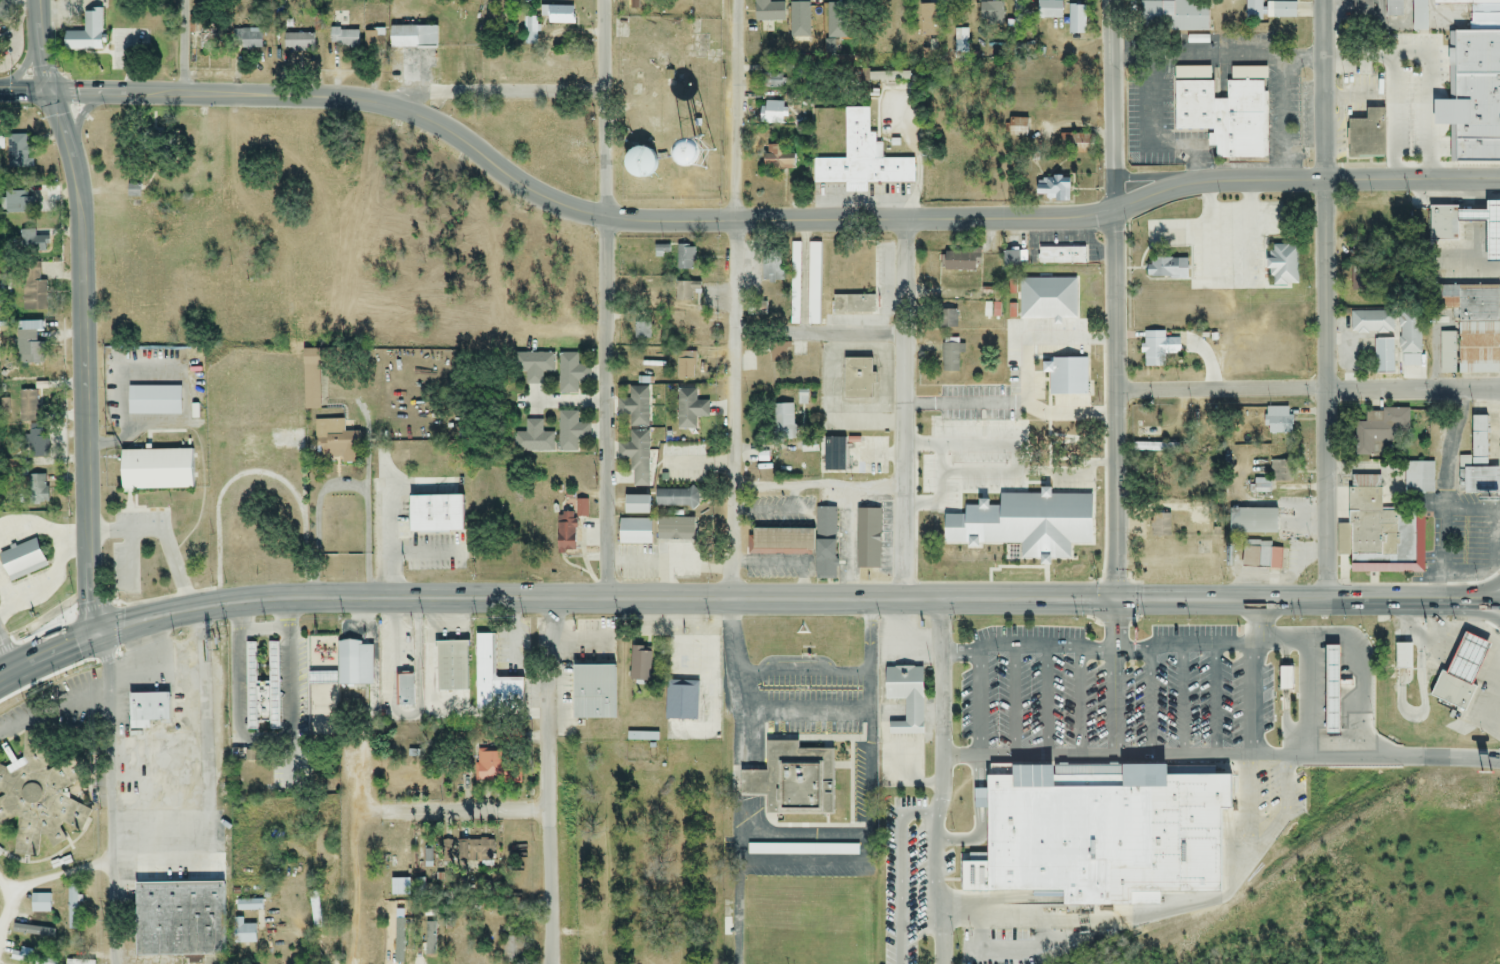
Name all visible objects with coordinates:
building: (1393, 8)
building: (768, 10)
building: (1049, 10)
building: (1362, 10)
building: (1280, 11)
building: (824, 14)
building: (558, 15)
building: (995, 16)
building: (1172, 16)
building: (1418, 16)
building: (1076, 20)
building: (922, 22)
building: (531, 31)
building: (85, 34)
building: (249, 38)
building: (412, 38)
building: (343, 39)
building: (374, 39)
building: (207, 43)
building: (298, 43)
road: (41, 46)
road: (183, 47)
road: (1164, 55)
road: (1135, 56)
road: (1429, 69)
building: (772, 82)
building: (1477, 85)
road: (1324, 90)
road: (25, 91)
road: (486, 92)
road: (1110, 106)
road: (605, 109)
road: (738, 111)
building: (771, 113)
building: (1224, 117)
road: (1392, 118)
road: (1286, 120)
building: (1018, 128)
building: (1366, 136)
building: (1075, 144)
building: (17, 153)
building: (862, 159)
building: (637, 163)
building: (1052, 189)
building: (133, 191)
building: (17, 203)
road: (1230, 214)
road: (762, 221)
building: (1442, 232)
road: (1474, 234)
building: (32, 243)
building: (1061, 256)
building: (685, 258)
building: (1014, 258)
building: (961, 260)
building: (1281, 265)
building: (771, 267)
building: (1165, 268)
building: (795, 284)
building: (814, 284)
building: (33, 288)
building: (684, 292)
building: (1047, 299)
building: (864, 305)
building: (758, 311)
building: (947, 319)
building: (1371, 322)
building: (691, 327)
building: (642, 329)
building: (1468, 330)
building: (1409, 332)
road: (1040, 340)
building: (29, 343)
building: (1157, 349)
road: (1346, 352)
building: (778, 356)
road: (1337, 356)
building: (1382, 357)
building: (951, 358)
road: (84, 362)
building: (685, 365)
building: (534, 366)
building: (571, 373)
road: (828, 377)
building: (857, 379)
building: (311, 380)
road: (188, 391)
road: (1306, 391)
road: (1329, 391)
road: (566, 403)
road: (1011, 404)
road: (1114, 406)
building: (28, 407)
building: (635, 407)
road: (607, 408)
building: (689, 409)
road: (734, 410)
road: (906, 410)
building: (1278, 421)
building: (783, 423)
building: (1064, 425)
building: (1379, 431)
building: (571, 432)
building: (533, 439)
building: (1478, 441)
building: (37, 442)
building: (336, 442)
building: (808, 448)
building: (1154, 451)
road: (1452, 451)
building: (252, 455)
building: (636, 457)
road: (1087, 464)
building: (153, 470)
road: (254, 472)
road: (945, 474)
road: (305, 476)
building: (1419, 477)
building: (1485, 480)
building: (1258, 484)
road: (819, 487)
road: (344, 489)
building: (36, 490)
building: (676, 499)
building: (635, 505)
road: (1480, 509)
road: (392, 514)
building: (433, 515)
building: (996, 519)
building: (1251, 522)
building: (1159, 526)
building: (569, 527)
building: (674, 530)
building: (634, 532)
road: (165, 533)
building: (1381, 533)
building: (867, 539)
road: (1446, 539)
building: (780, 542)
road: (76, 543)
building: (825, 544)
building: (1259, 556)
road: (1499, 557)
road: (62, 560)
building: (21, 561)
road: (1467, 577)
road: (742, 599)
road: (265, 628)
road: (1068, 643)
road: (1367, 652)
road: (965, 655)
building: (1219, 656)
building: (1402, 657)
road: (5, 660)
building: (353, 664)
road: (154, 665)
building: (639, 665)
building: (451, 667)
building: (1460, 672)
road: (1262, 679)
building: (1291, 679)
road: (1116, 680)
building: (494, 681)
building: (1346, 685)
building: (262, 690)
building: (1338, 690)
gas station: (1338, 690)
building: (404, 691)
building: (592, 693)
building: (905, 698)
building: (681, 701)
road: (1151, 701)
road: (1186, 701)
road: (1222, 701)
road: (1312, 701)
road: (1022, 702)
road: (1053, 702)
road: (1088, 702)
road: (52, 707)
building: (322, 707)
building: (146, 710)
road: (737, 731)
road: (267, 742)
road: (1221, 758)
building: (488, 766)
road: (209, 778)
building: (415, 778)
building: (811, 779)
road: (548, 782)
road: (943, 782)
building: (37, 797)
road: (110, 797)
building: (986, 798)
road: (468, 812)
road: (981, 820)
road: (805, 835)
building: (1107, 835)
road: (1250, 846)
road: (871, 848)
building: (444, 852)
building: (481, 852)
building: (426, 854)
road: (61, 875)
road: (357, 881)
building: (399, 887)
road: (10, 904)
building: (39, 904)
building: (72, 908)
building: (178, 920)
road: (1071, 924)
building: (243, 932)
building: (82, 947)
building: (514, 947)
building: (43, 960)

